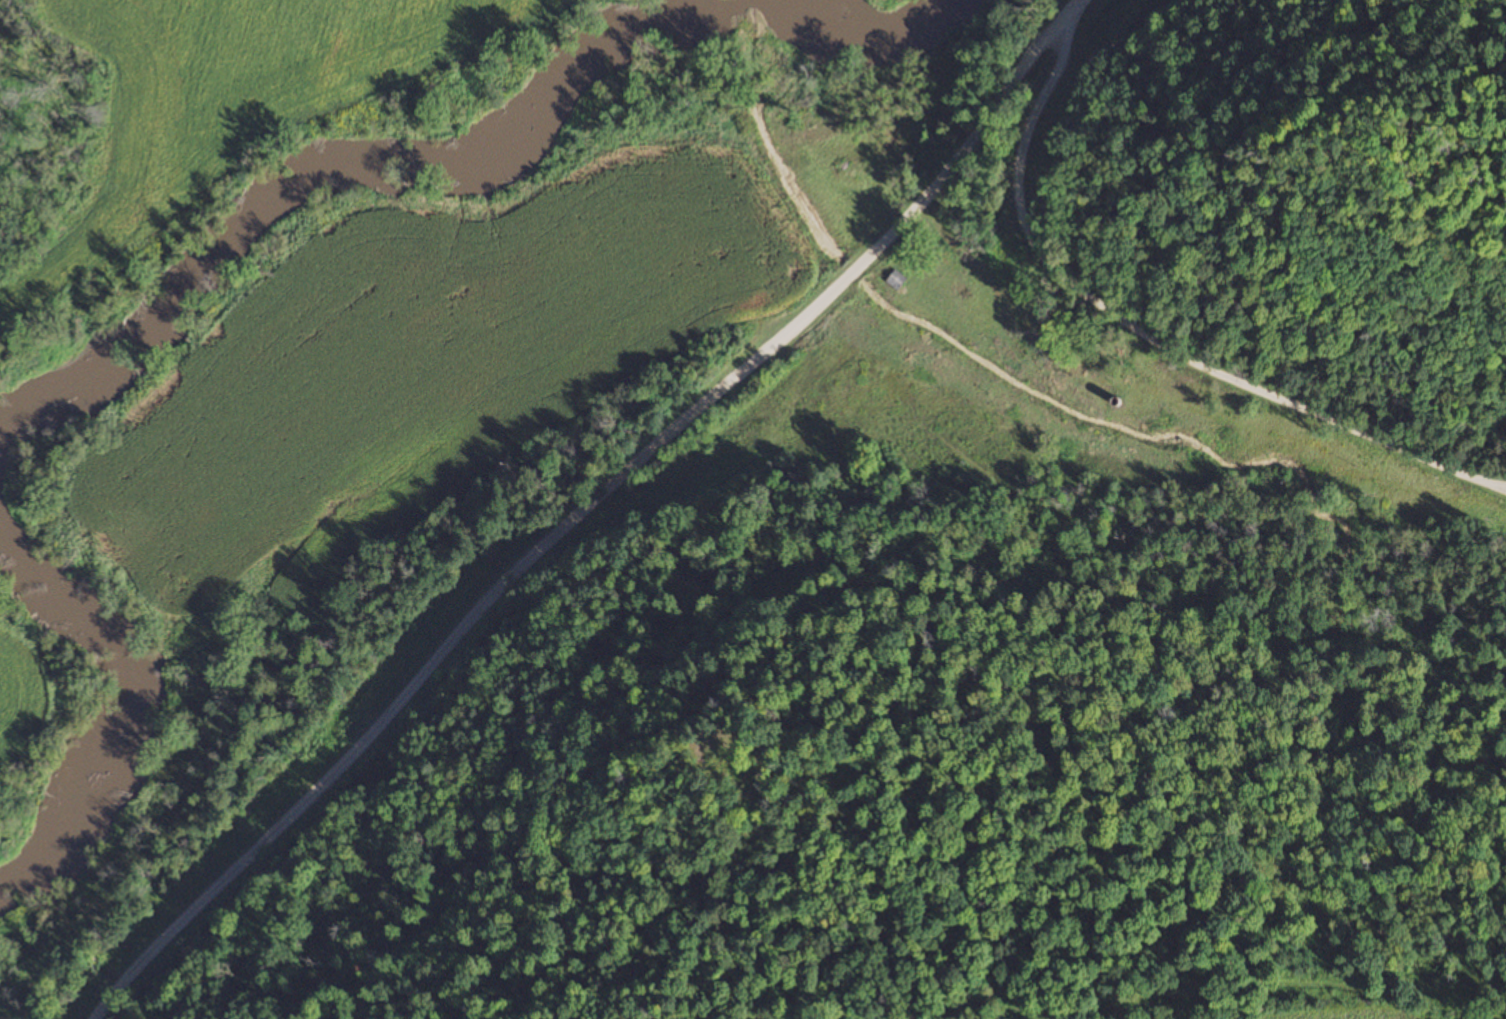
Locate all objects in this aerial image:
river: (460, 159)
building: (895, 279)
road: (1150, 340)
road: (587, 509)
road: (530, 633)
road: (1499, 637)
river: (131, 699)

